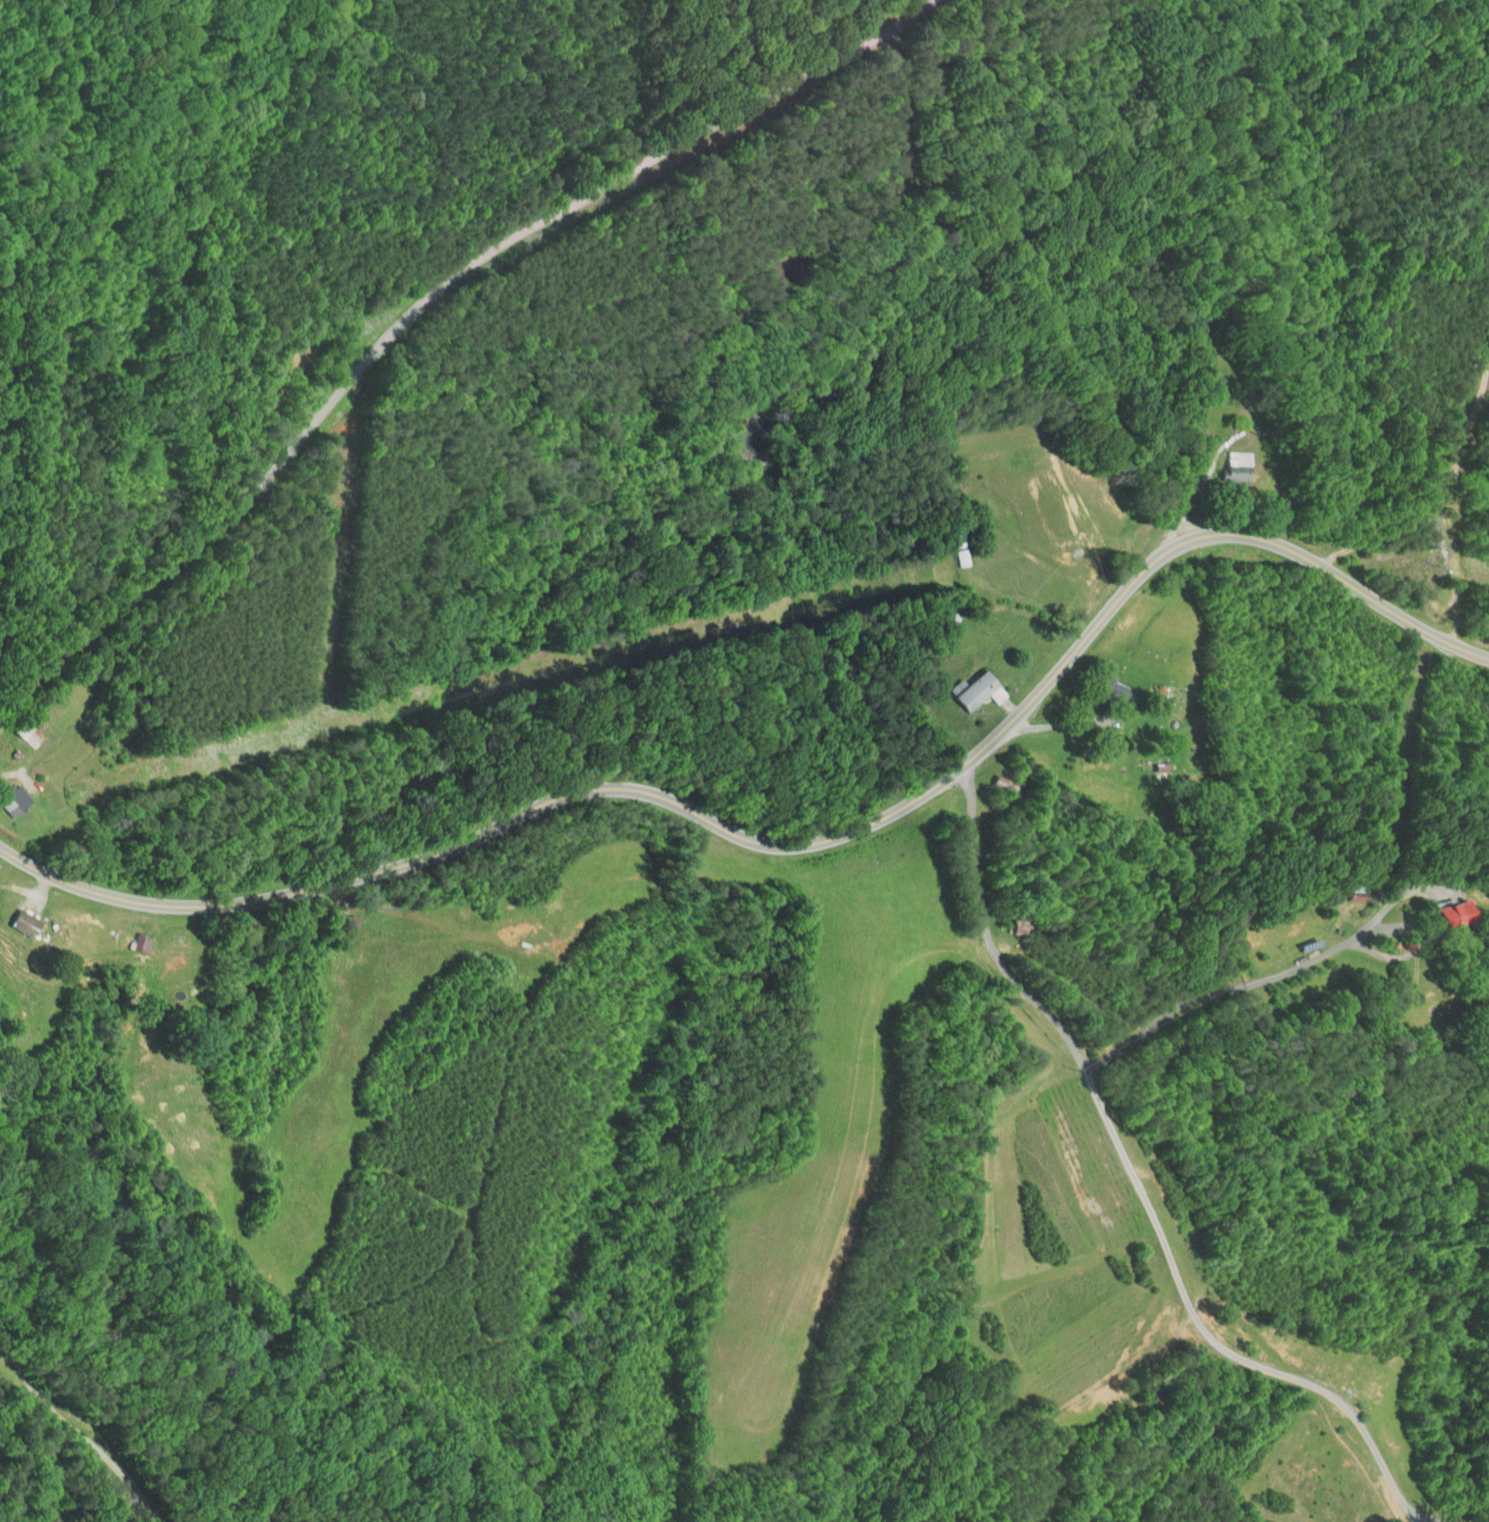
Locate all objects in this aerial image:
road: (420, 301)
building: (1486, 332)
building: (1223, 459)
road: (1436, 493)
building: (950, 551)
building: (1099, 681)
building: (962, 684)
road: (1062, 722)
building: (9, 795)
road: (797, 847)
building: (1436, 907)
building: (18, 916)
building: (128, 938)
road: (1242, 984)
road: (1139, 1181)
road: (76, 1436)

